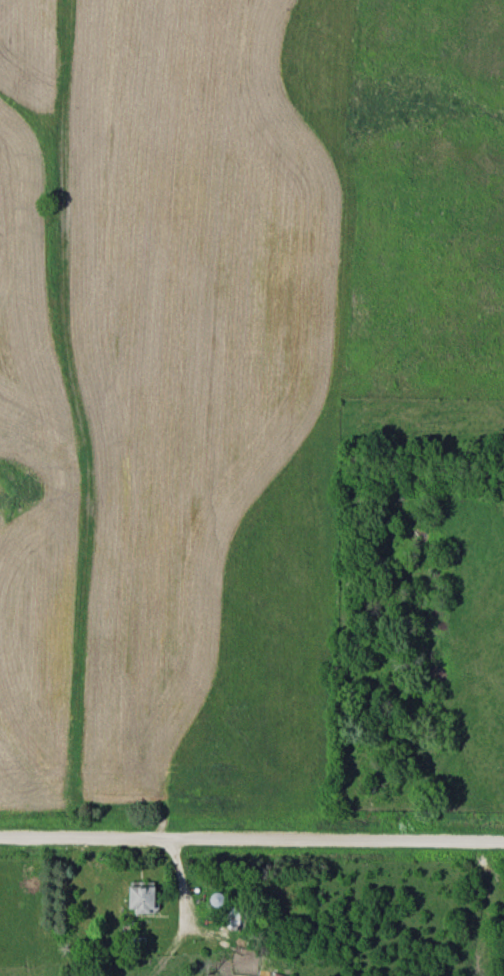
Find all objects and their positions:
road: (251, 841)
road: (179, 886)
building: (141, 898)
building: (228, 919)
road: (200, 935)

